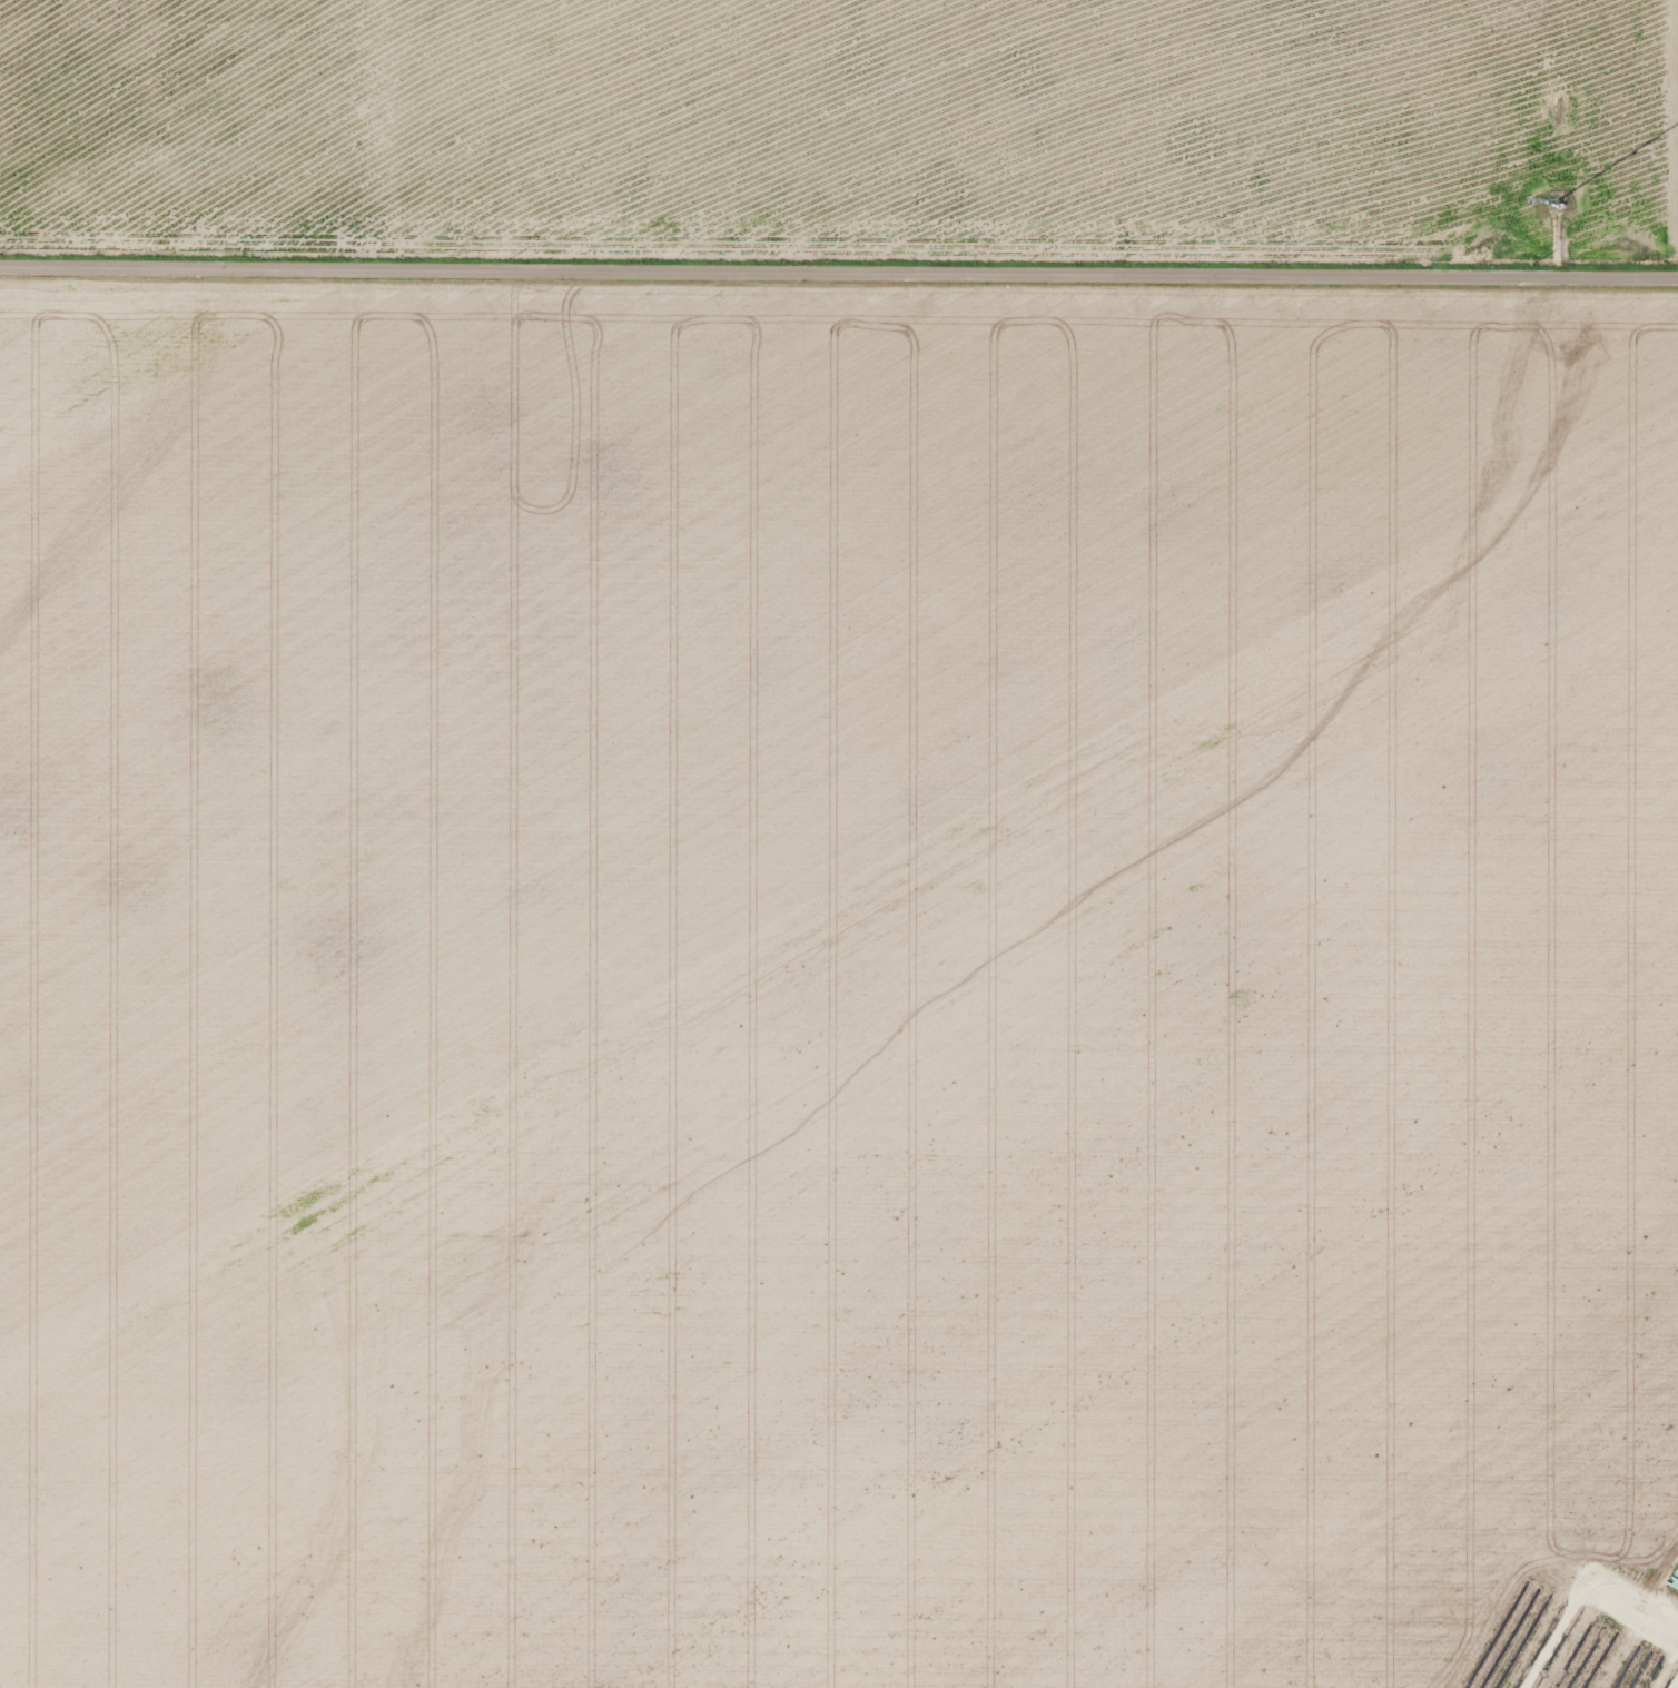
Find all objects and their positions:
road: (839, 272)

